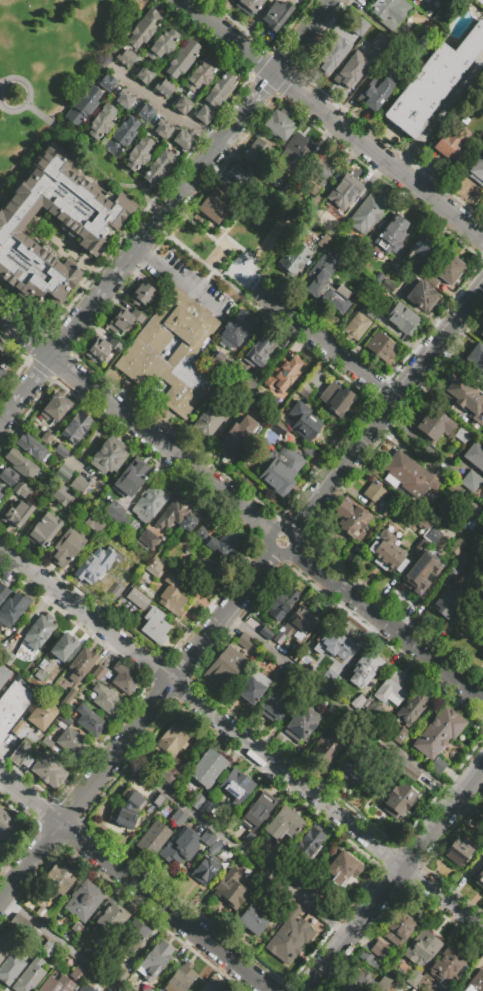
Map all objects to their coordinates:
building: (426, 1)
building: (480, 1)
building: (248, 6)
building: (390, 12)
building: (275, 14)
building: (437, 14)
building: (357, 26)
building: (143, 28)
road: (227, 36)
road: (302, 37)
building: (378, 42)
building: (161, 45)
building: (422, 49)
building: (330, 54)
building: (125, 57)
building: (181, 59)
park: (50, 63)
building: (349, 68)
traffic signals: (273, 74)
building: (143, 75)
building: (199, 76)
building: (107, 82)
building: (432, 82)
building: (164, 87)
building: (219, 91)
road: (257, 93)
building: (376, 93)
road: (29, 94)
building: (124, 99)
road: (161, 104)
building: (182, 105)
building: (81, 107)
building: (145, 112)
building: (204, 115)
building: (101, 121)
building: (278, 125)
building: (162, 129)
building: (120, 137)
building: (182, 141)
building: (451, 142)
road: (72, 151)
building: (253, 151)
building: (291, 153)
building: (138, 154)
road: (378, 157)
road: (92, 161)
road: (115, 165)
building: (59, 168)
building: (158, 168)
building: (477, 170)
building: (319, 177)
building: (240, 178)
building: (344, 192)
building: (38, 194)
building: (98, 202)
building: (215, 206)
building: (368, 211)
building: (120, 212)
building: (84, 218)
building: (77, 232)
road: (145, 234)
park: (276, 235)
building: (392, 235)
building: (13, 238)
road: (215, 240)
building: (323, 241)
park: (240, 242)
building: (97, 247)
building: (423, 248)
road: (142, 253)
building: (293, 260)
road: (231, 264)
building: (58, 266)
building: (322, 266)
building: (396, 266)
building: (450, 270)
road: (211, 271)
park: (243, 271)
building: (4, 274)
building: (39, 274)
road: (208, 275)
building: (377, 277)
building: (72, 278)
building: (13, 280)
road: (199, 285)
road: (187, 286)
road: (253, 286)
building: (387, 286)
building: (28, 291)
building: (328, 292)
building: (141, 294)
building: (57, 295)
building: (420, 295)
building: (368, 310)
building: (402, 319)
building: (124, 320)
building: (356, 326)
building: (235, 329)
building: (480, 331)
road: (324, 344)
building: (381, 346)
building: (102, 348)
building: (259, 350)
building: (172, 353)
building: (476, 357)
building: (220, 362)
building: (1, 366)
building: (284, 374)
road: (33, 380)
building: (248, 387)
building: (306, 392)
building: (463, 398)
building: (337, 399)
building: (55, 407)
road: (7, 411)
road: (387, 411)
building: (207, 421)
building: (303, 421)
road: (134, 424)
building: (433, 425)
building: (76, 428)
building: (462, 434)
building: (240, 435)
building: (46, 437)
building: (31, 447)
building: (457, 450)
building: (60, 451)
building: (109, 455)
building: (475, 456)
building: (21, 464)
building: (280, 470)
building: (63, 472)
building: (408, 475)
building: (7, 477)
building: (131, 477)
building: (471, 481)
building: (78, 485)
building: (21, 489)
building: (0, 495)
building: (61, 496)
building: (374, 496)
building: (149, 503)
building: (113, 510)
building: (16, 514)
building: (177, 516)
building: (350, 519)
building: (423, 522)
building: (93, 523)
building: (44, 530)
building: (430, 534)
building: (147, 539)
building: (219, 542)
building: (455, 547)
building: (66, 548)
road: (275, 553)
building: (386, 556)
building: (200, 560)
building: (94, 565)
building: (457, 566)
building: (154, 567)
building: (203, 570)
building: (419, 572)
building: (112, 591)
building: (3, 592)
building: (172, 596)
building: (137, 599)
building: (446, 604)
building: (281, 605)
building: (13, 610)
building: (155, 625)
building: (296, 625)
road: (387, 625)
building: (38, 631)
building: (266, 633)
building: (245, 641)
building: (481, 643)
building: (63, 646)
building: (333, 646)
building: (3, 652)
building: (482, 655)
building: (8, 659)
building: (43, 664)
building: (81, 664)
building: (224, 667)
building: (364, 668)
building: (99, 673)
building: (3, 674)
building: (39, 675)
building: (124, 678)
building: (393, 686)
building: (253, 688)
building: (67, 698)
building: (105, 700)
building: (357, 701)
building: (275, 704)
building: (13, 706)
road: (341, 706)
building: (411, 708)
building: (330, 710)
building: (372, 710)
building: (43, 715)
building: (65, 719)
building: (90, 720)
building: (301, 724)
building: (17, 727)
road: (138, 728)
building: (437, 732)
building: (23, 733)
building: (31, 737)
road: (241, 738)
building: (402, 738)
building: (173, 739)
building: (47, 742)
building: (71, 742)
building: (328, 745)
building: (20, 751)
building: (438, 764)
building: (206, 768)
building: (355, 769)
building: (49, 770)
building: (169, 772)
building: (235, 787)
building: (197, 801)
building: (398, 801)
building: (207, 807)
road: (470, 807)
building: (127, 811)
building: (257, 811)
building: (178, 818)
building: (284, 824)
building: (8, 828)
building: (207, 837)
building: (154, 839)
building: (309, 842)
building: (180, 846)
road: (231, 848)
building: (458, 850)
building: (342, 861)
building: (205, 870)
building: (59, 878)
road: (394, 878)
building: (479, 878)
road: (134, 884)
building: (231, 890)
building: (83, 901)
building: (293, 910)
building: (254, 917)
building: (108, 918)
building: (289, 927)
building: (313, 927)
building: (398, 929)
building: (73, 932)
building: (130, 937)
building: (31, 939)
road: (62, 944)
building: (421, 948)
building: (47, 949)
building: (380, 950)
building: (3, 951)
building: (154, 961)
building: (367, 963)
building: (448, 963)
building: (10, 968)
building: (27, 974)
building: (78, 974)
building: (121, 975)
building: (34, 980)
building: (349, 981)
building: (475, 981)
building: (179, 982)
building: (384, 982)
building: (56, 984)
building: (210, 987)
building: (84, 988)
building: (105, 989)

